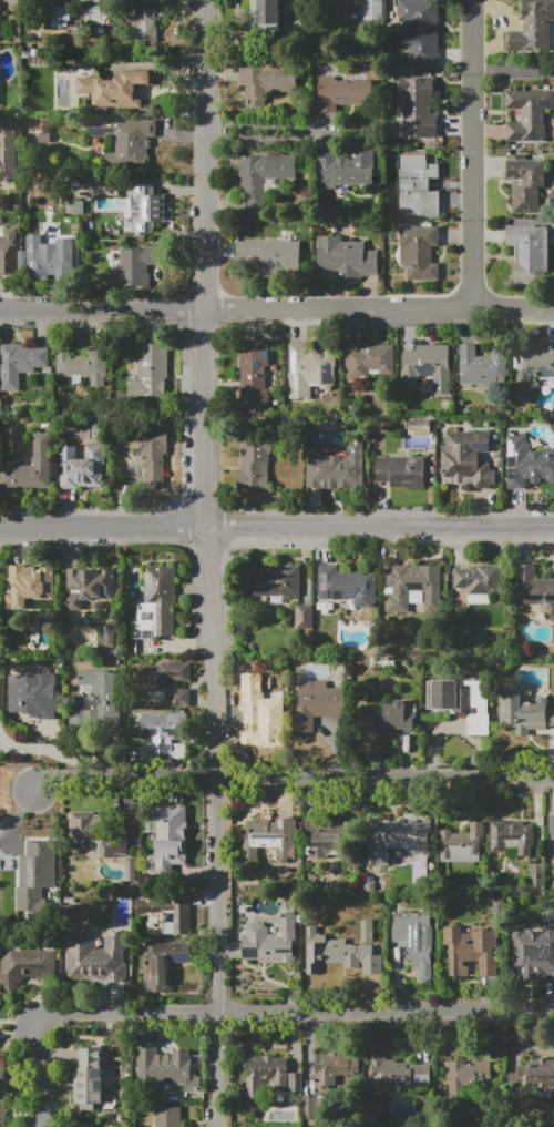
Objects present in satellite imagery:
building: (373, 6)
building: (265, 12)
building: (93, 14)
building: (80, 16)
building: (65, 17)
building: (0, 20)
building: (145, 26)
building: (532, 28)
building: (421, 30)
road: (515, 70)
building: (265, 81)
building: (115, 90)
building: (343, 92)
building: (418, 108)
building: (527, 115)
road: (263, 138)
building: (124, 139)
building: (9, 151)
road: (474, 154)
building: (340, 172)
building: (261, 179)
building: (525, 182)
building: (104, 184)
building: (417, 185)
building: (75, 207)
building: (145, 207)
building: (419, 252)
building: (529, 252)
building: (11, 253)
building: (271, 256)
building: (345, 257)
building: (51, 263)
building: (136, 264)
road: (236, 309)
road: (513, 309)
building: (21, 363)
building: (367, 363)
building: (83, 365)
building: (484, 365)
building: (428, 366)
building: (310, 369)
building: (532, 369)
building: (153, 373)
building: (254, 374)
building: (152, 456)
building: (468, 460)
building: (254, 463)
building: (525, 463)
building: (30, 466)
building: (82, 467)
building: (336, 468)
building: (401, 471)
road: (277, 527)
road: (209, 563)
building: (479, 579)
building: (275, 580)
building: (347, 585)
building: (27, 586)
building: (89, 586)
building: (532, 586)
building: (413, 587)
building: (156, 603)
building: (302, 617)
building: (106, 634)
building: (167, 674)
building: (32, 696)
building: (179, 698)
building: (98, 700)
building: (462, 702)
building: (317, 703)
building: (255, 710)
building: (521, 713)
building: (387, 718)
building: (165, 737)
road: (294, 785)
road: (17, 813)
building: (553, 832)
building: (94, 834)
building: (326, 836)
building: (398, 836)
building: (510, 836)
building: (171, 837)
building: (270, 839)
building: (462, 844)
building: (130, 871)
building: (536, 875)
building: (31, 877)
building: (548, 881)
building: (500, 904)
building: (167, 911)
building: (367, 931)
building: (270, 941)
building: (416, 943)
building: (534, 951)
building: (471, 952)
building: (339, 953)
building: (95, 956)
building: (163, 964)
building: (25, 965)
building: (0, 998)
building: (0, 1001)
road: (242, 1011)
building: (334, 1068)
building: (2, 1069)
building: (167, 1070)
building: (396, 1075)
building: (466, 1077)
building: (534, 1078)
building: (295, 1082)
building: (93, 1084)
building: (254, 1085)
building: (309, 1107)
building: (3, 1111)
building: (168, 1117)

